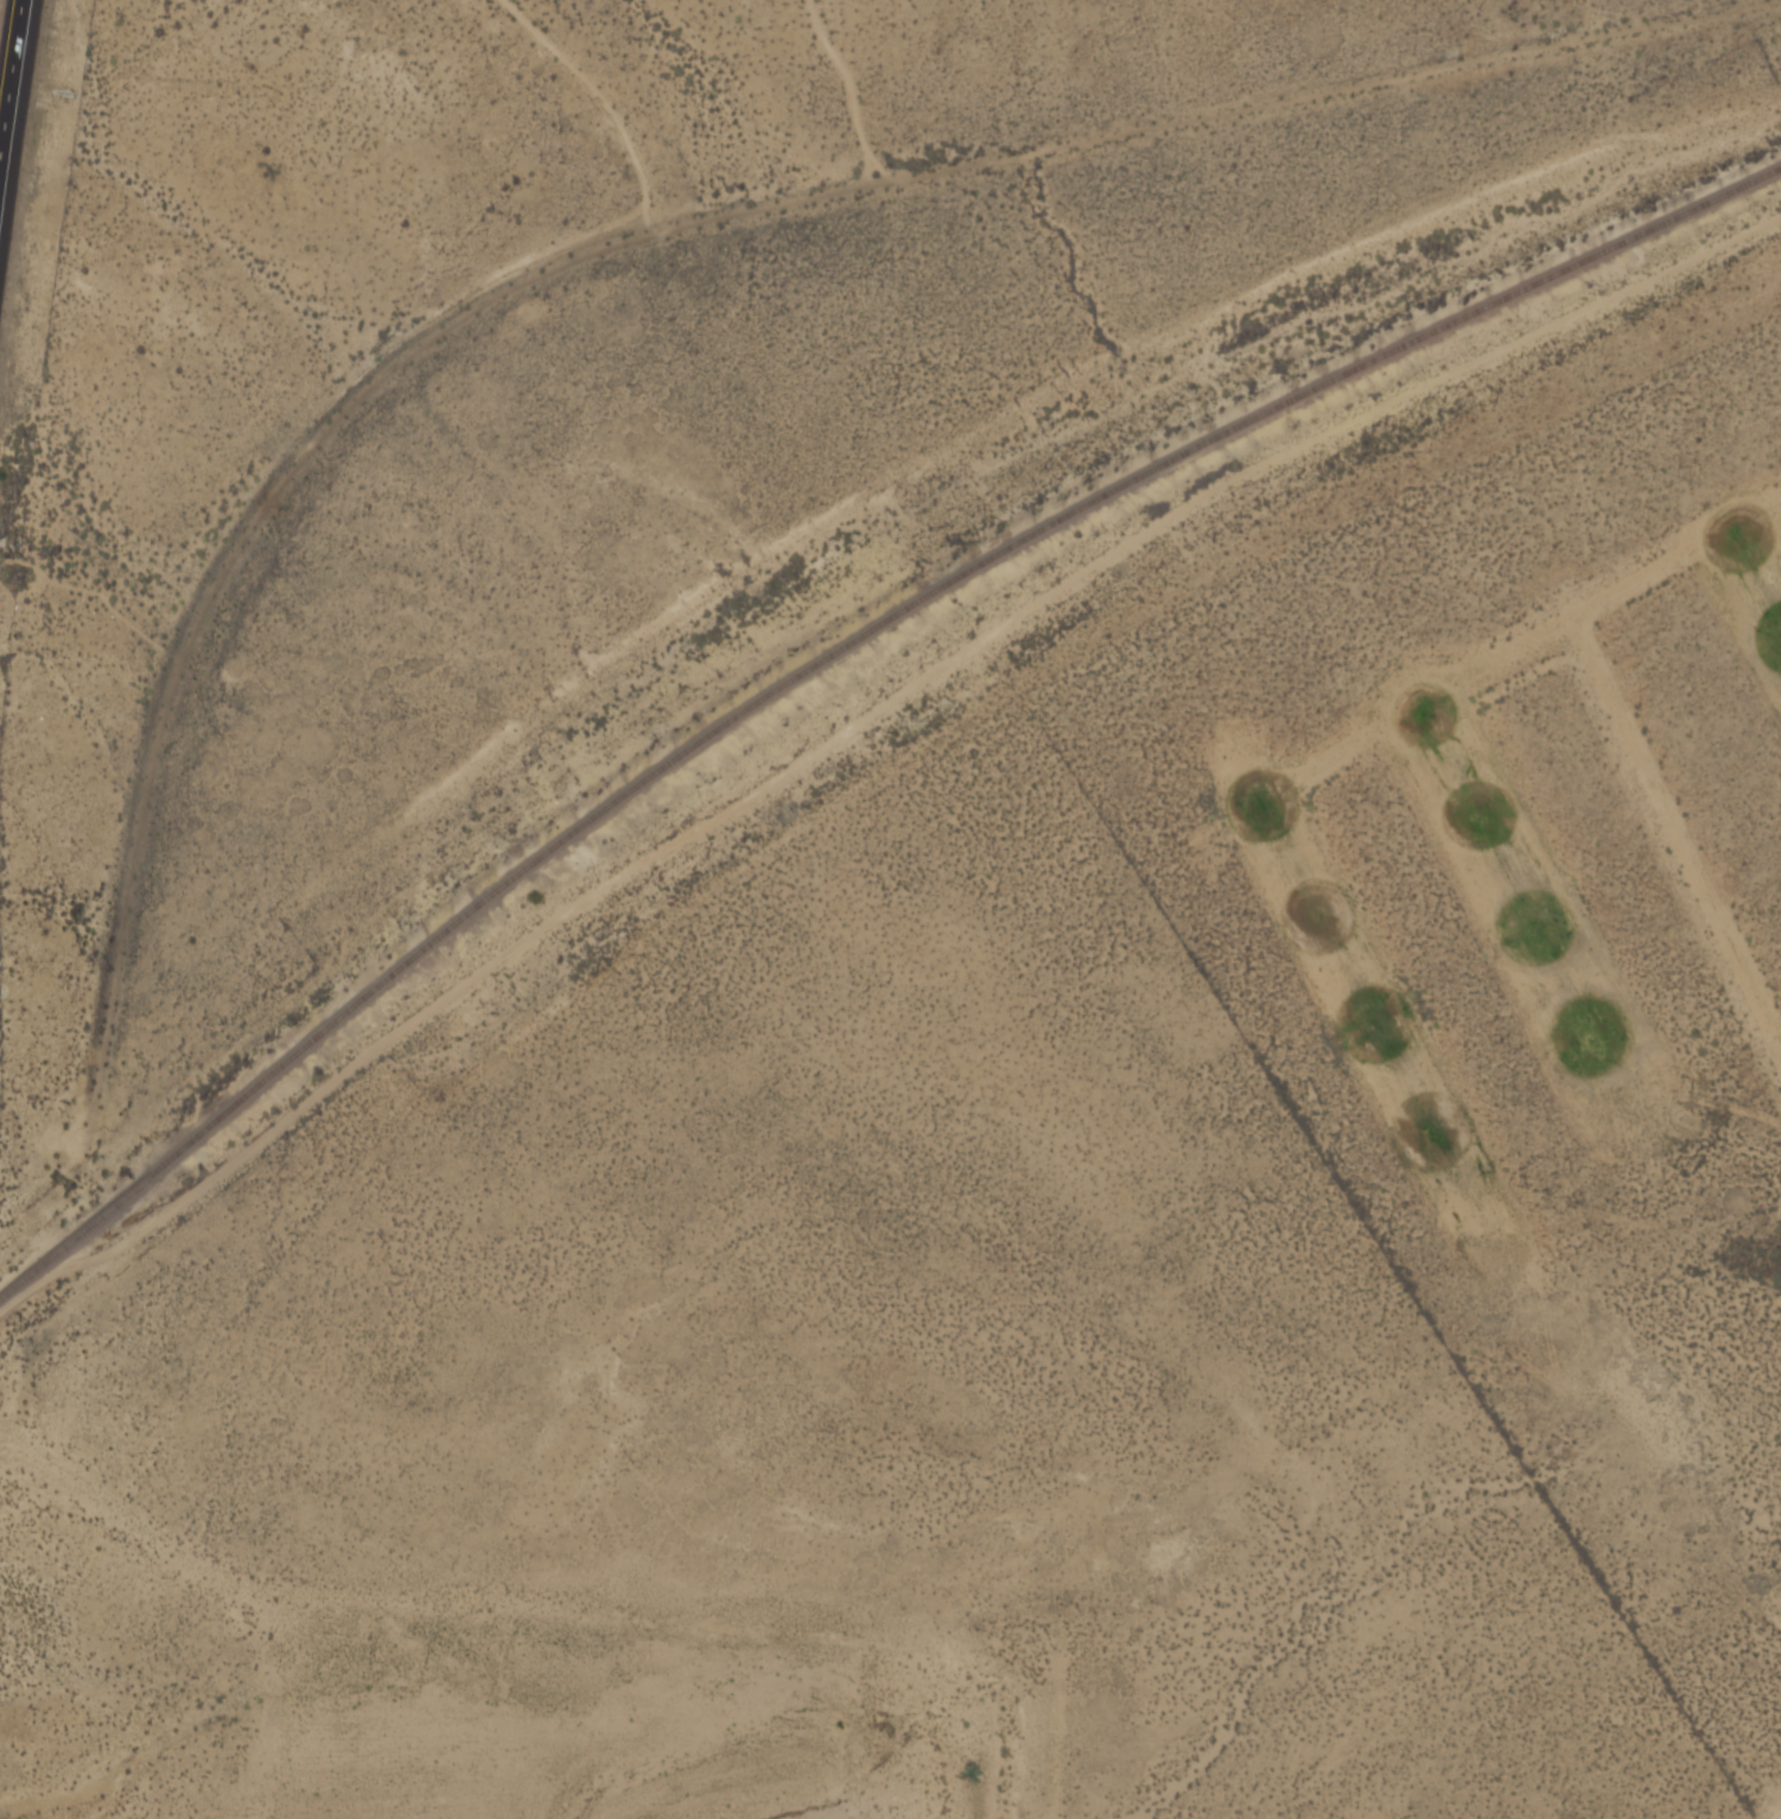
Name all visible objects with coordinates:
road: (15, 113)
railway: (838, 651)
railway: (66, 1267)
quarry: (502, 1710)

